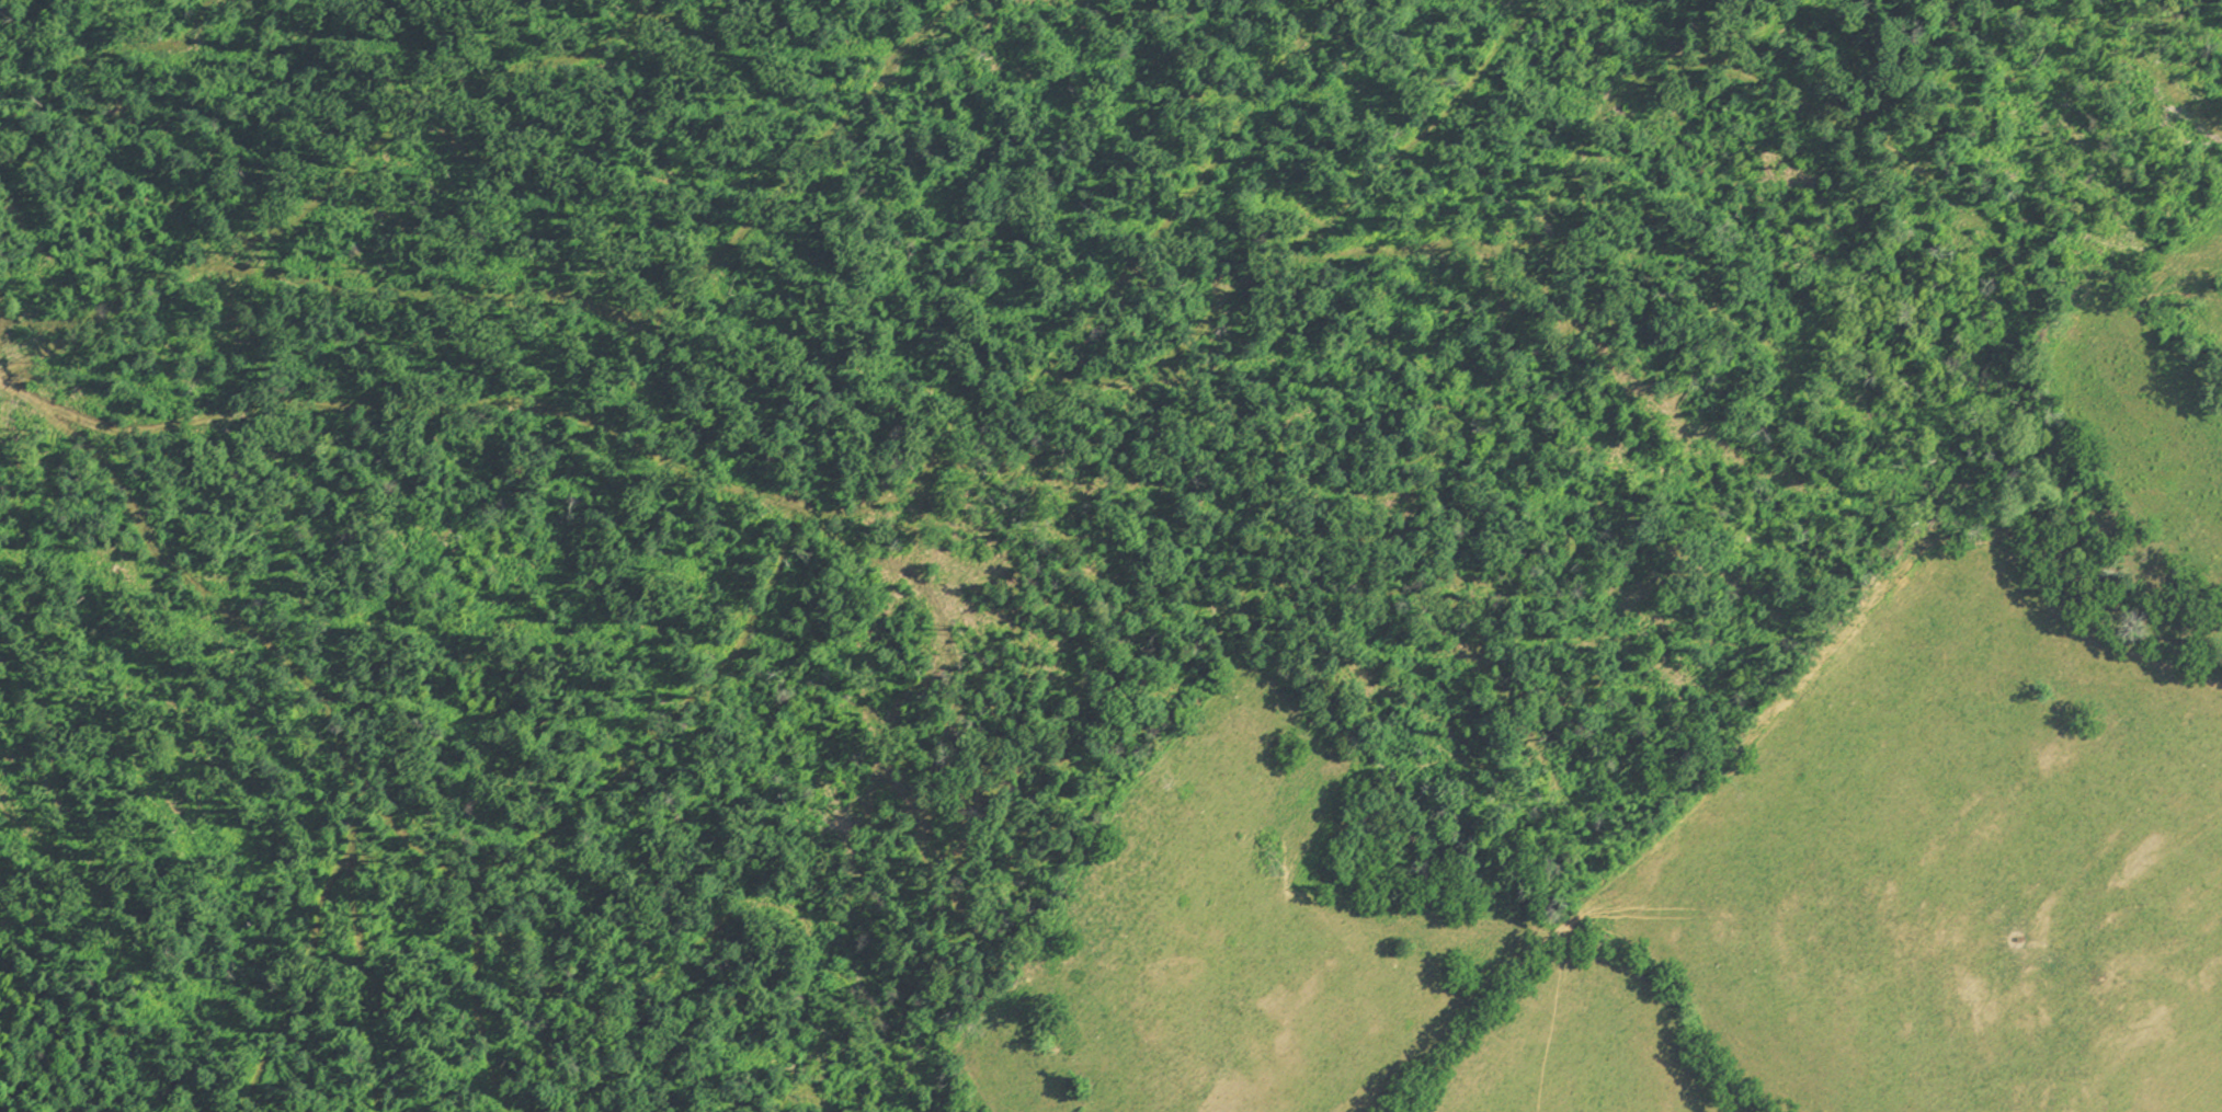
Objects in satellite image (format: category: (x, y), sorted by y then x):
road: (4, 5)
crop: (2150, 415)
crop: (1676, 903)

